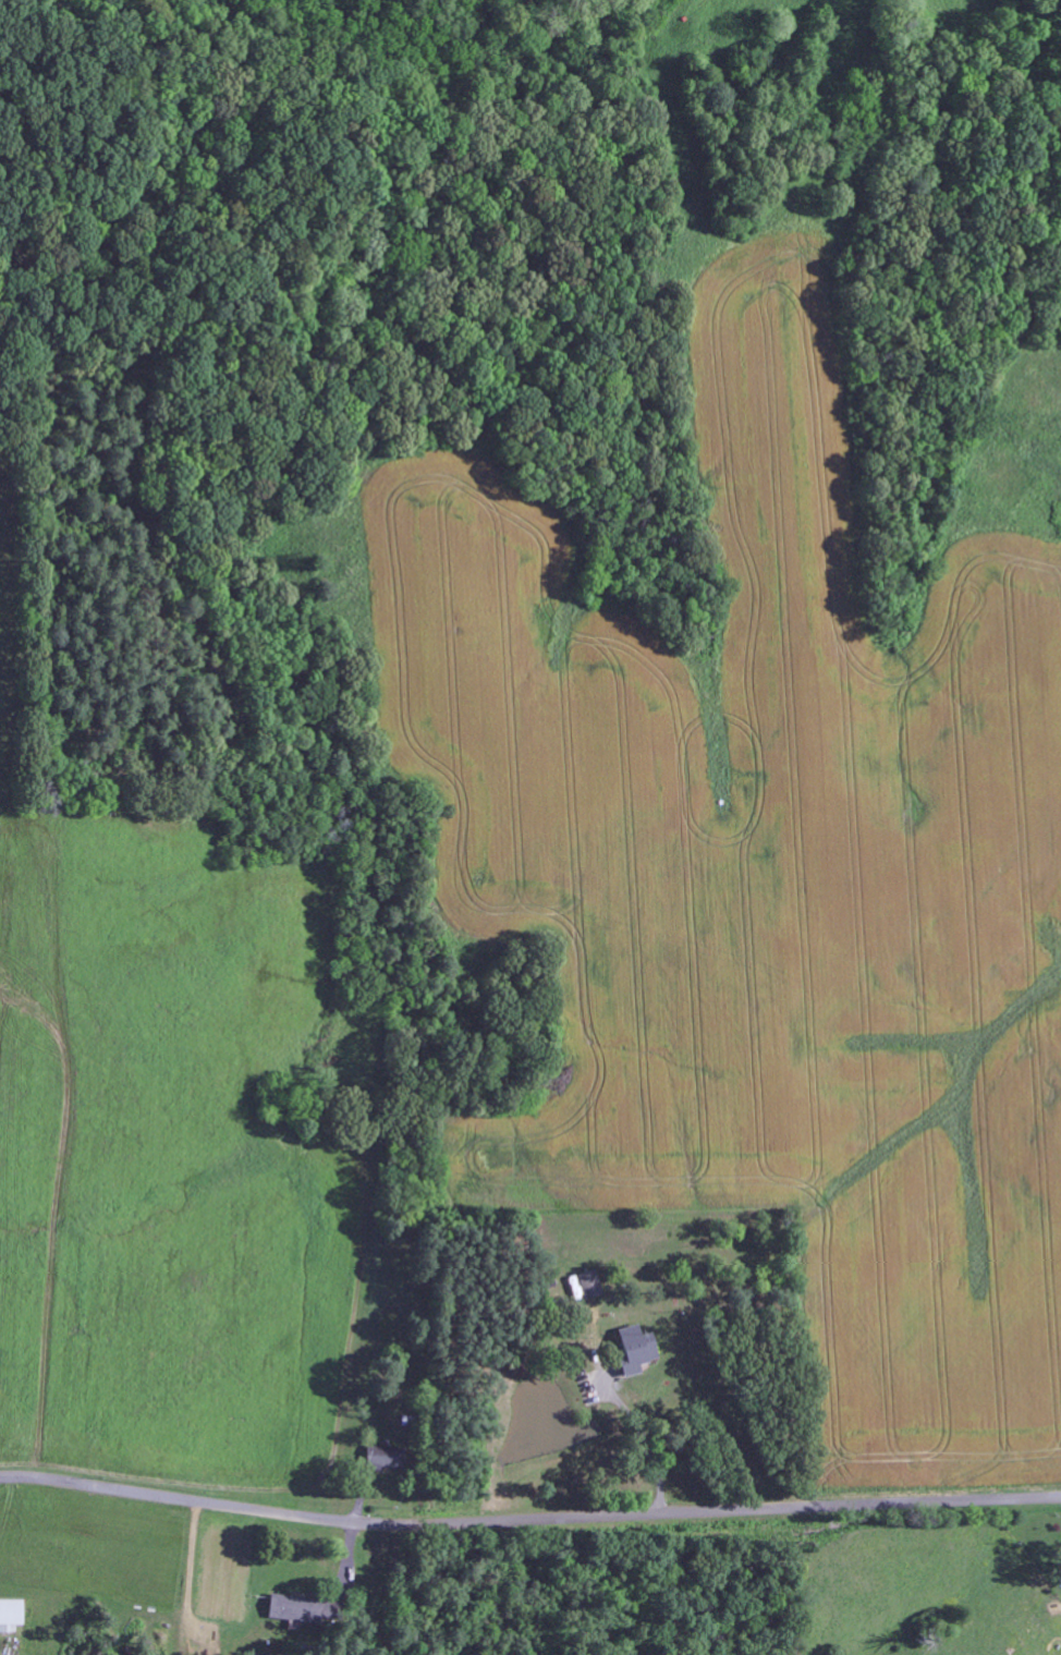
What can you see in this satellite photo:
building: (588, 1285)
building: (633, 1349)
building: (380, 1457)
road: (528, 1520)
building: (293, 1610)
building: (10, 1615)

